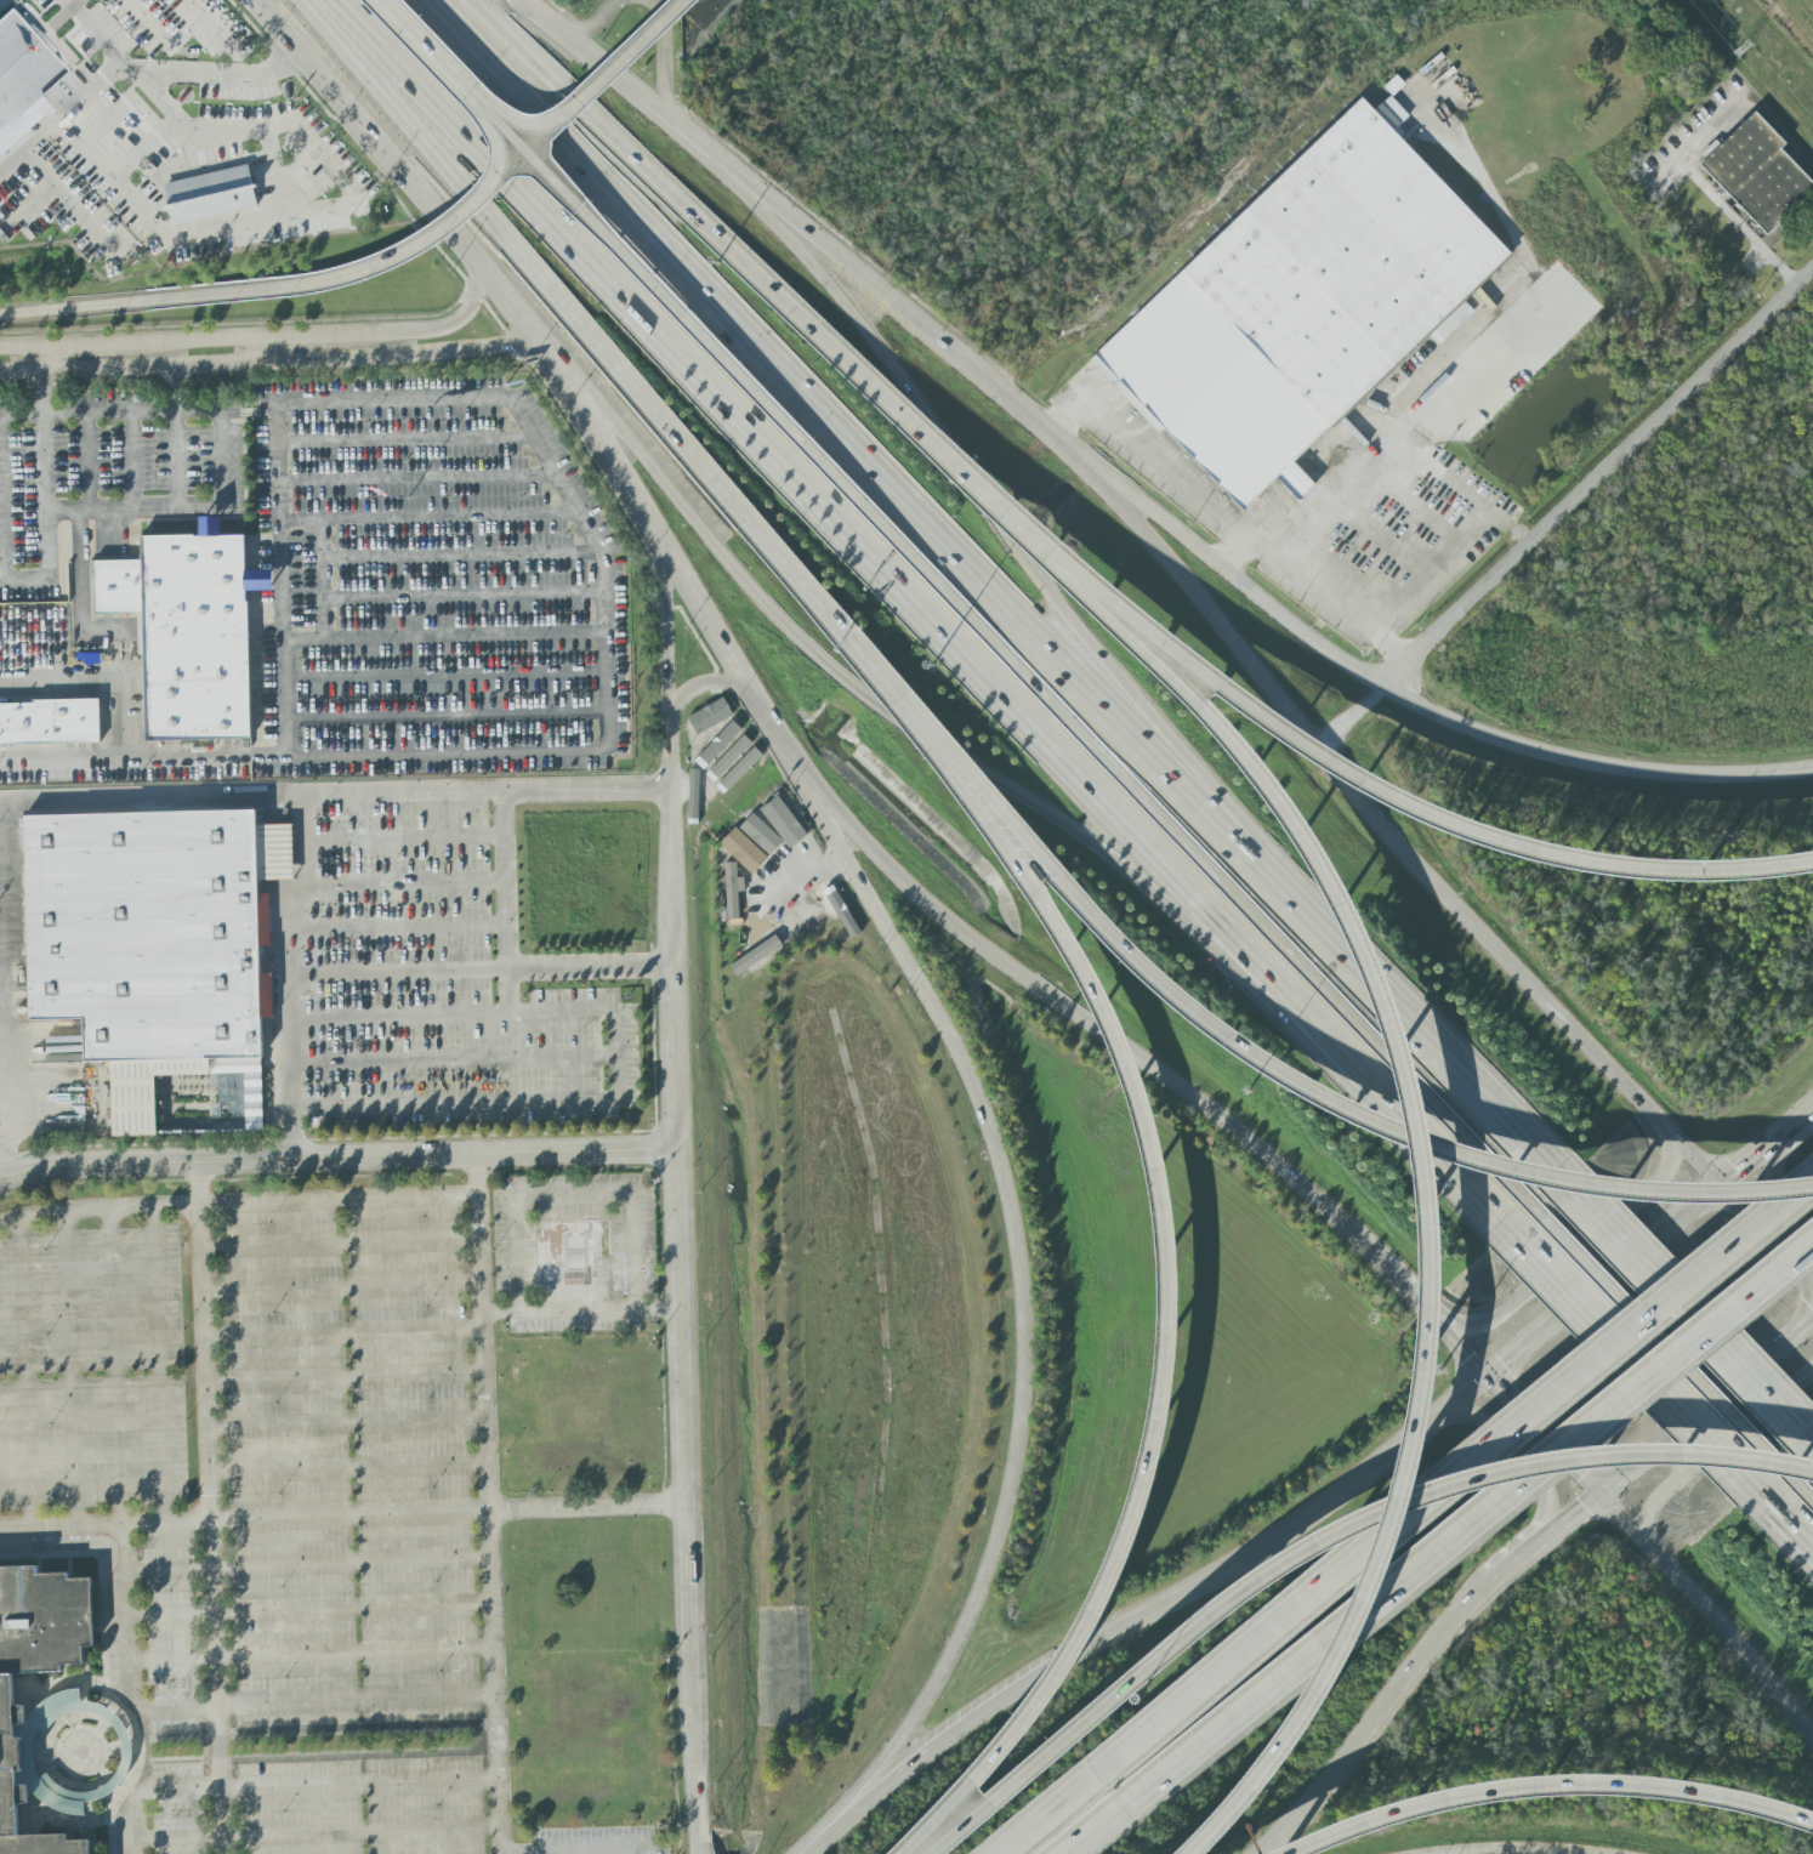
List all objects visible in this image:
road: (75, 2)
road: (603, 22)
road: (152, 23)
road: (214, 24)
road: (96, 34)
road: (416, 45)
power tower: (1740, 49)
road: (669, 61)
road: (284, 62)
road: (116, 68)
road: (616, 74)
building: (22, 79)
road: (579, 93)
building: (1391, 113)
road: (632, 154)
building: (1756, 174)
road: (410, 178)
road: (1703, 188)
building: (209, 194)
road: (68, 203)
road: (318, 209)
road: (430, 229)
road: (814, 238)
road: (512, 250)
road: (1529, 275)
road: (663, 300)
road: (135, 302)
building: (1306, 312)
road: (255, 340)
road: (265, 349)
road: (405, 356)
road: (132, 365)
road: (988, 380)
road: (41, 381)
road: (174, 388)
road: (388, 402)
road: (159, 413)
road: (519, 417)
road: (278, 426)
road: (837, 433)
road: (404, 439)
road: (1375, 447)
road: (42, 460)
road: (220, 460)
road: (131, 461)
road: (176, 461)
road: (87, 462)
road: (278, 462)
road: (966, 471)
road: (416, 478)
road: (566, 494)
road: (1, 497)
road: (279, 500)
road: (991, 500)
road: (815, 504)
road: (1565, 507)
parking lot: (333, 508)
road: (150, 510)
road: (448, 514)
road: (300, 517)
road: (319, 538)
road: (1247, 539)
road: (460, 556)
road: (783, 561)
road: (45, 569)
road: (602, 571)
road: (282, 578)
road: (319, 578)
road: (686, 579)
road: (461, 593)
road: (603, 610)
road: (83, 613)
road: (320, 616)
road: (666, 632)
building: (193, 633)
road: (462, 635)
road: (302, 638)
road: (604, 652)
road: (445, 675)
road: (701, 686)
road: (607, 692)
road: (1397, 694)
road: (285, 696)
road: (447, 715)
building: (709, 716)
road: (905, 724)
building: (62, 726)
road: (608, 729)
road: (124, 737)
building: (718, 747)
road: (447, 752)
road: (62, 758)
building: (727, 761)
building: (739, 769)
building: (693, 795)
road: (585, 798)
road: (400, 801)
road: (76, 809)
road: (1381, 813)
building: (783, 823)
road: (1449, 831)
building: (761, 834)
road: (402, 841)
building: (743, 852)
road: (1198, 860)
road: (302, 866)
road: (403, 882)
building: (733, 892)
building: (818, 904)
road: (397, 922)
building: (786, 923)
road: (288, 949)
building: (159, 952)
building: (750, 965)
road: (479, 972)
parking lot: (450, 986)
road: (507, 1001)
road: (399, 1019)
road: (1087, 1024)
road: (1405, 1030)
road: (1252, 1043)
road: (453, 1058)
road: (291, 1068)
building: (235, 1097)
road: (454, 1098)
road: (985, 1114)
road: (1795, 1124)
road: (1399, 1132)
road: (336, 1159)
road: (1749, 1161)
road: (1, 1170)
traffic signals: (1721, 1182)
road: (1778, 1193)
road: (576, 1200)
road: (239, 1204)
road: (1169, 1229)
road: (1767, 1232)
road: (1427, 1235)
road: (1585, 1242)
road: (341, 1244)
building: (568, 1253)
road: (1624, 1262)
road: (1396, 1284)
road: (681, 1285)
road: (342, 1287)
road: (582, 1309)
road: (1686, 1319)
road: (343, 1333)
road: (1455, 1343)
road: (1663, 1347)
road: (1507, 1359)
road: (161, 1367)
road: (118, 1369)
road: (72, 1371)
road: (1631, 1374)
road: (28, 1376)
traffic signals: (1488, 1376)
road: (346, 1378)
road: (1707, 1414)
road: (347, 1423)
road: (1519, 1456)
road: (1712, 1456)
road: (348, 1468)
road: (1451, 1485)
road: (1802, 1495)
traffic signals: (1603, 1498)
road: (488, 1505)
road: (210, 1508)
parking lot: (271, 1513)
road: (591, 1513)
road: (1582, 1515)
road: (1302, 1517)
road: (349, 1522)
road: (188, 1526)
road: (83, 1530)
road: (1328, 1535)
road: (1789, 1539)
road: (1473, 1542)
road: (1652, 1553)
road: (1529, 1558)
road: (351, 1562)
road: (353, 1608)
road: (124, 1620)
road: (951, 1637)
road: (354, 1651)
building: (35, 1674)
road: (357, 1700)
road: (180, 1705)
road: (987, 1710)
building: (46, 1712)
road: (1377, 1718)
road: (359, 1784)
road: (1547, 1784)
road: (148, 1790)
road: (1046, 1815)
road: (843, 1822)
road: (360, 1831)
road: (1097, 1835)
road: (176, 1837)
road: (601, 1850)
road: (1527, 1853)

